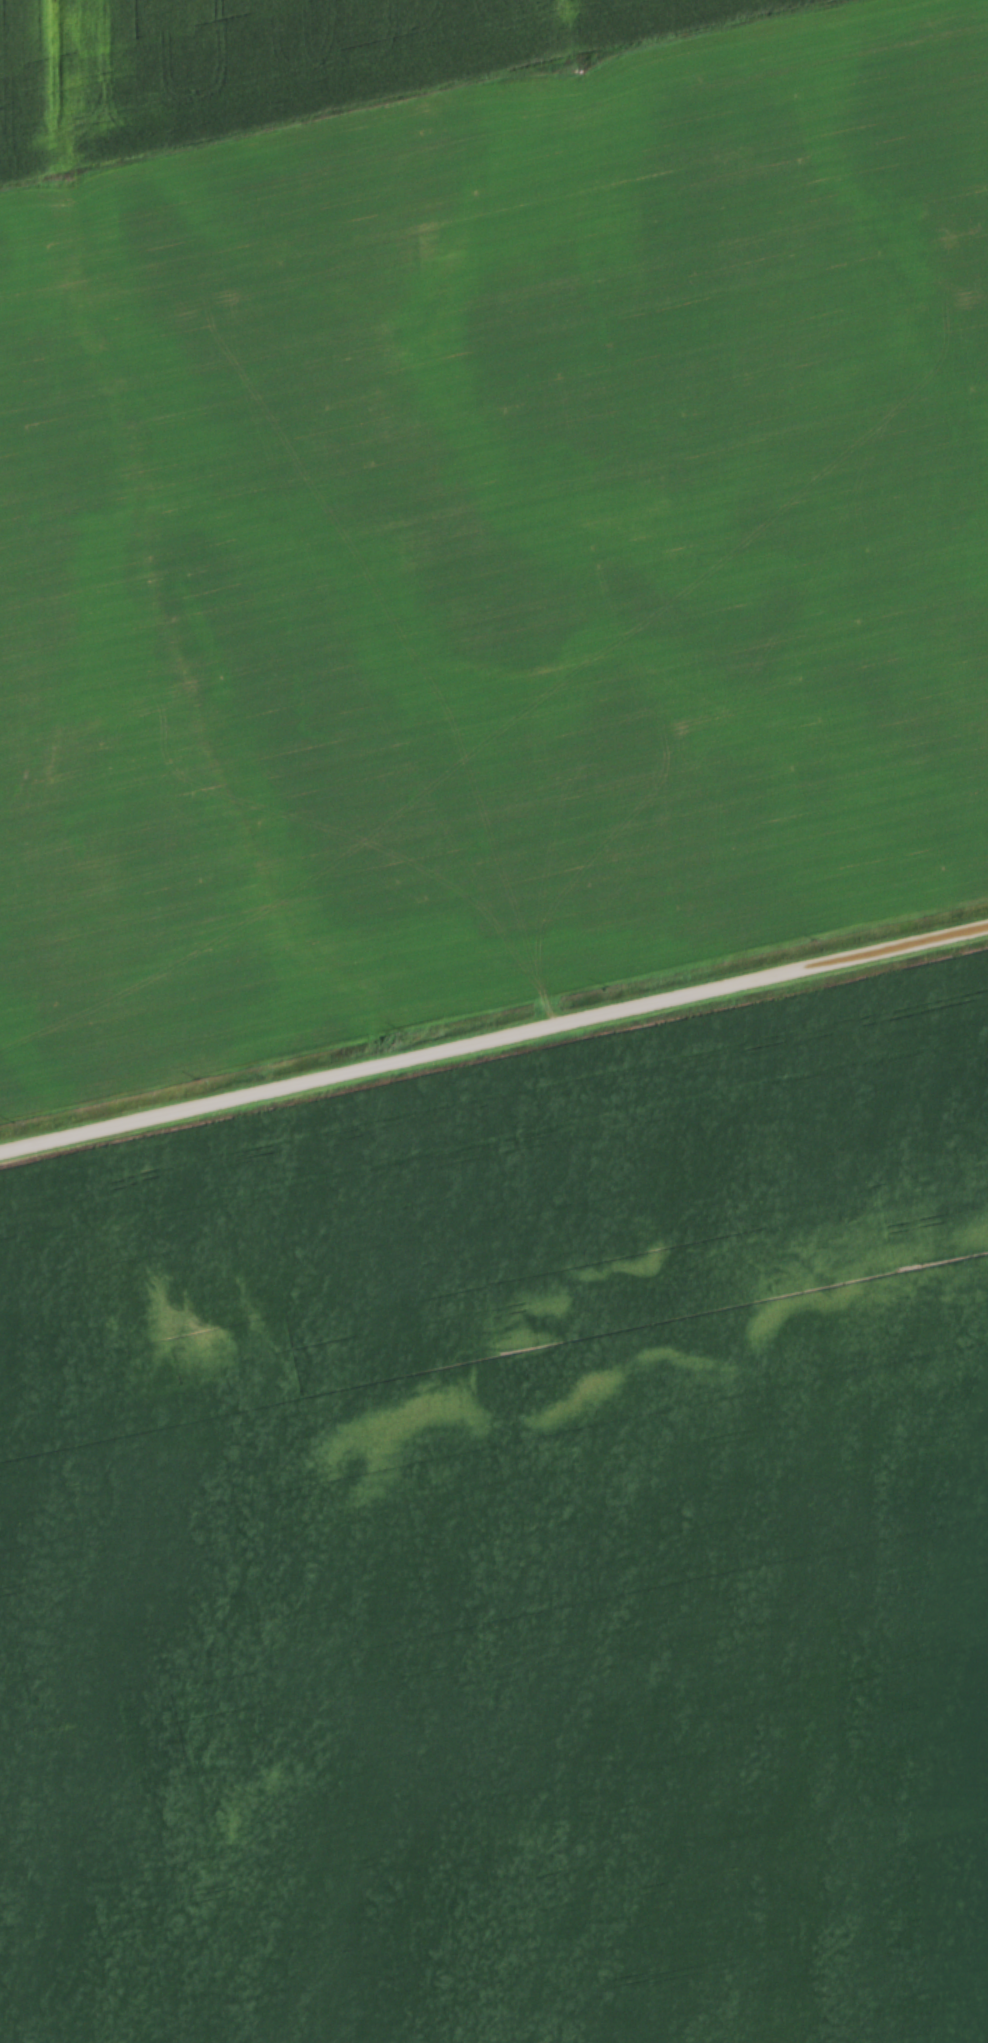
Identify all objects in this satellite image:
road: (494, 1038)

